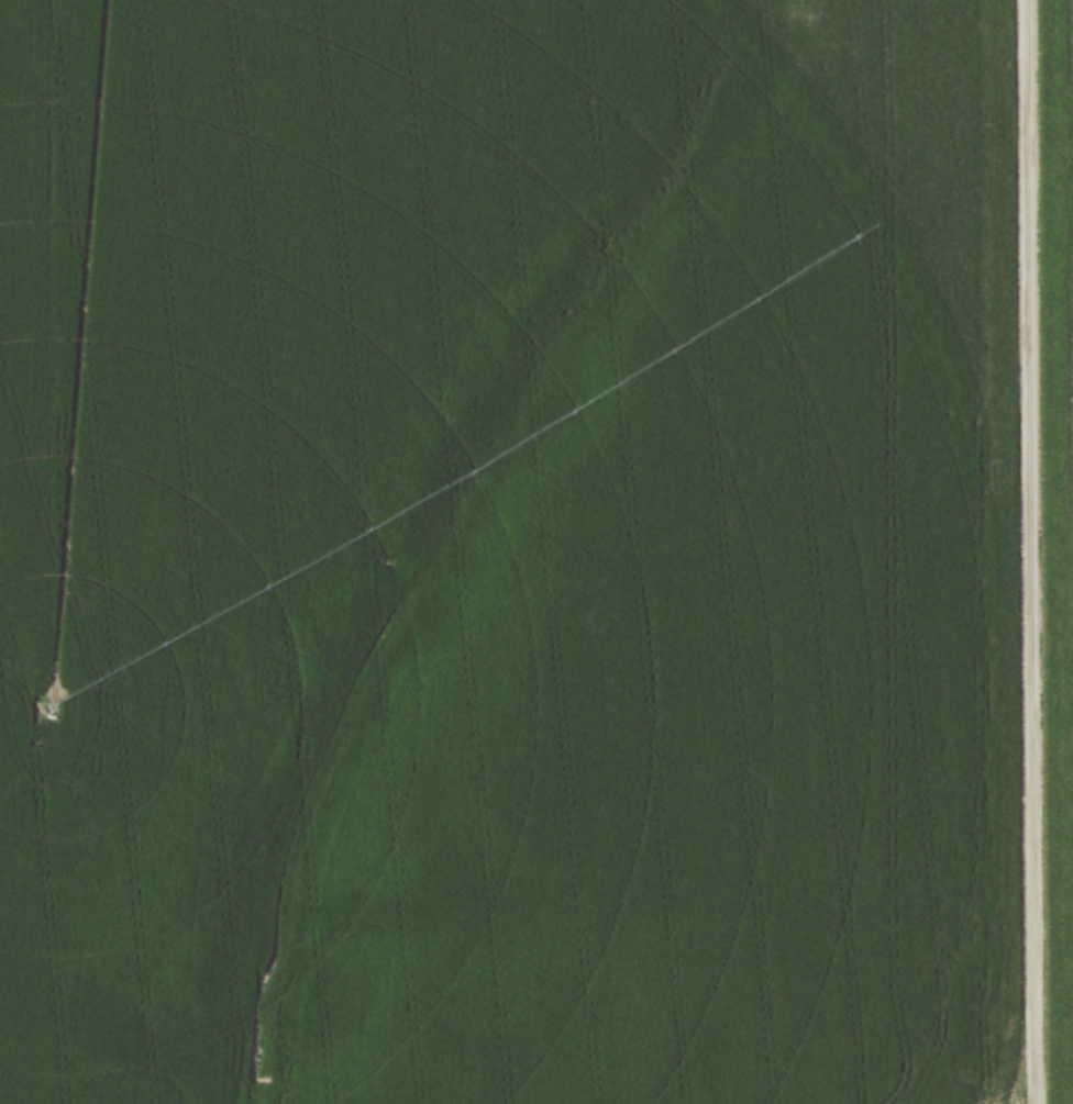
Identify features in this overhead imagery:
road: (1028, 551)

